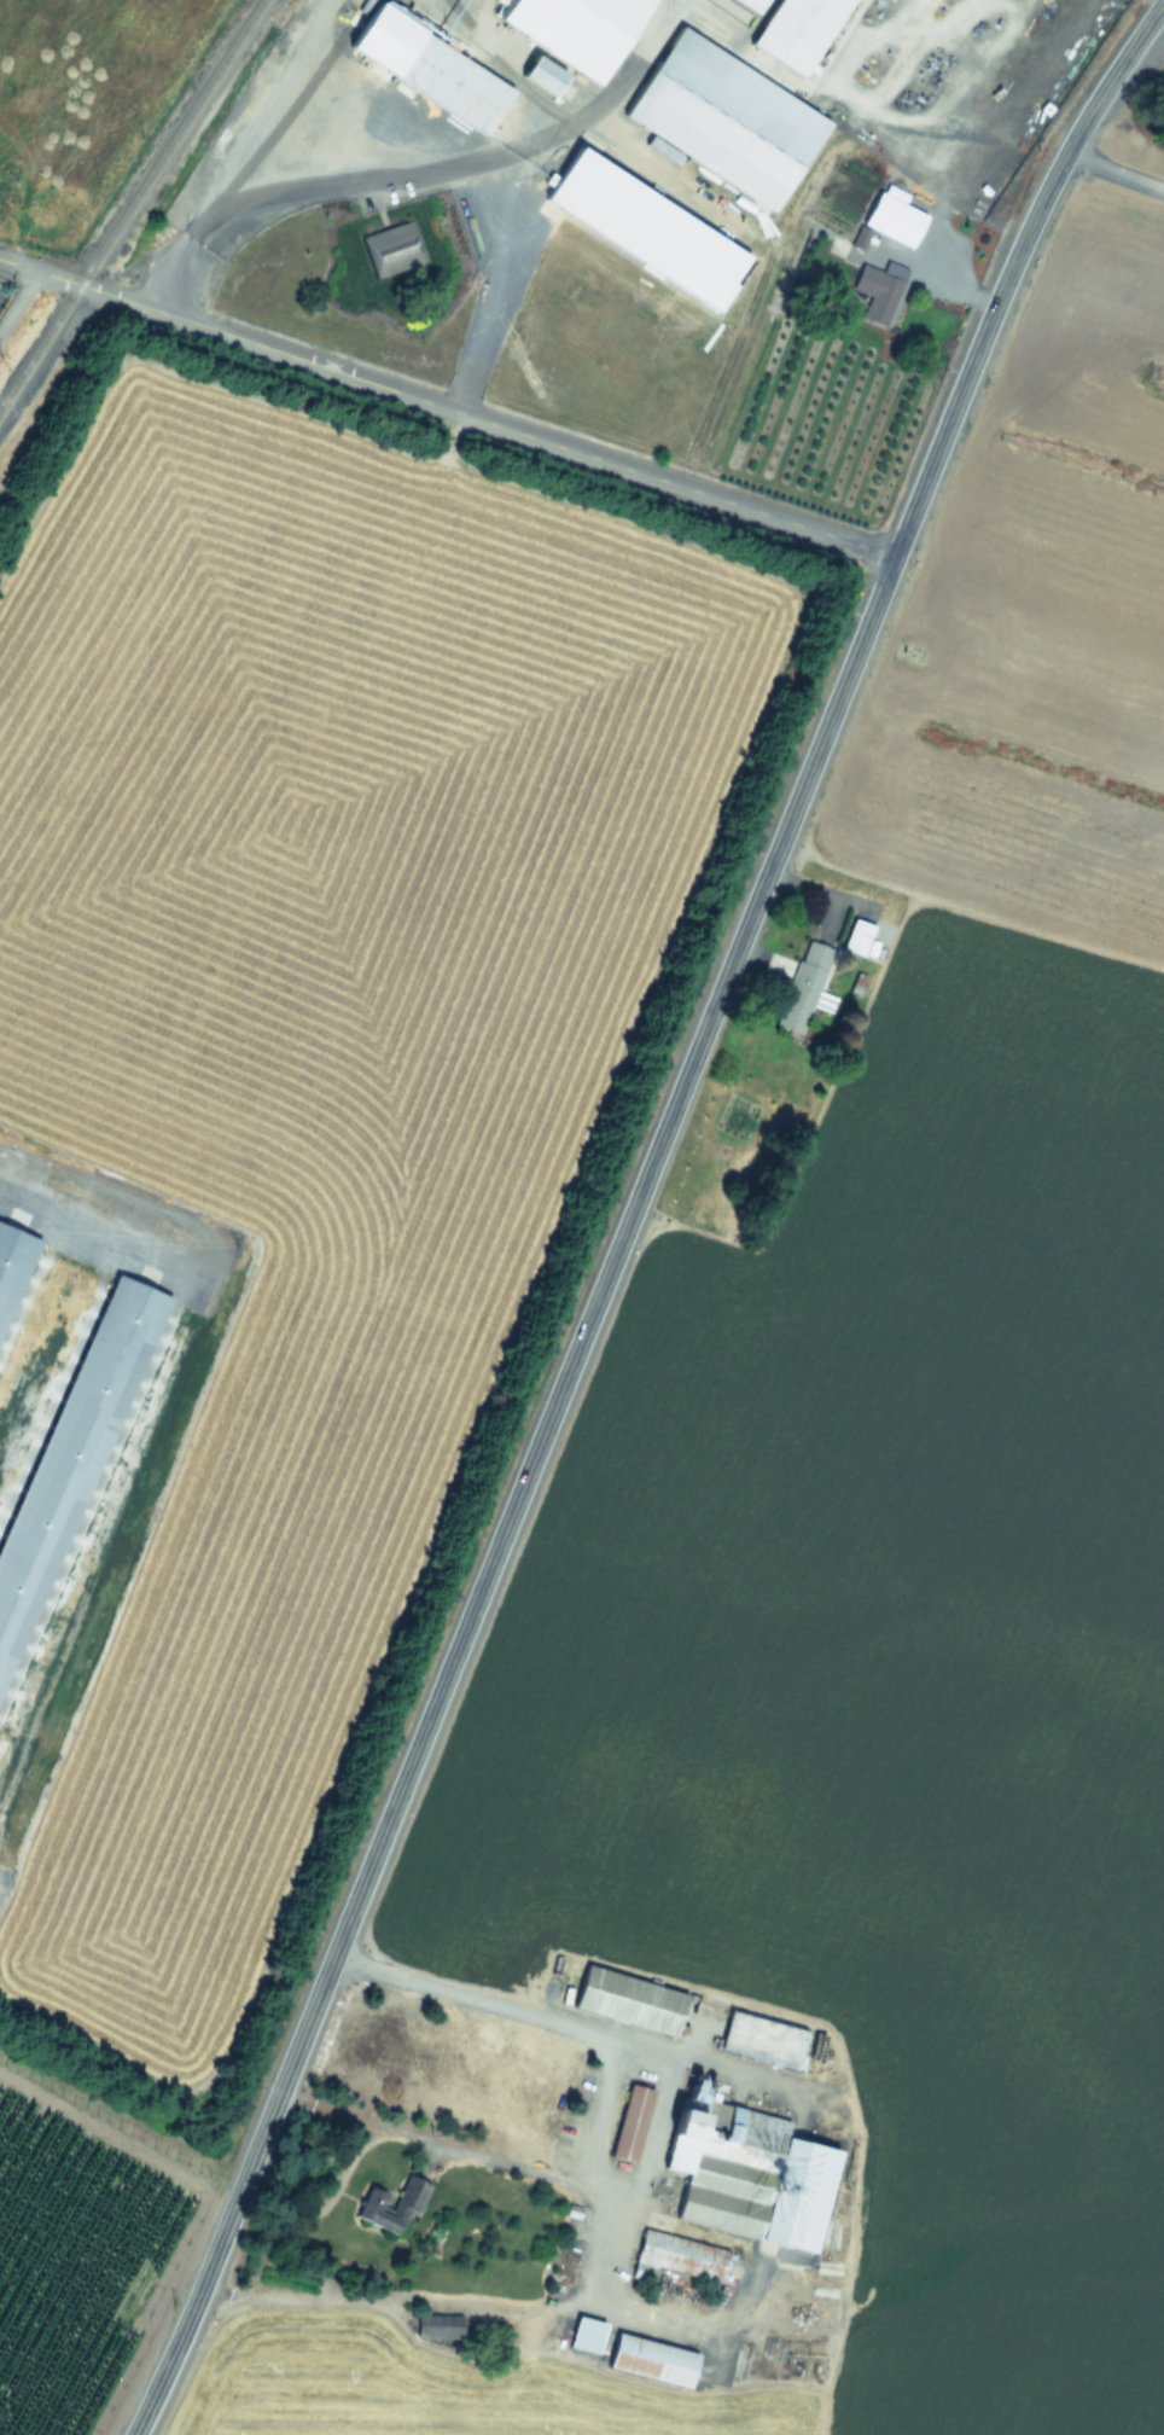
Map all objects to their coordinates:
building: (755, 4)
road: (1153, 14)
building: (576, 29)
building: (799, 31)
building: (552, 82)
building: (453, 83)
crop: (81, 100)
building: (726, 118)
road: (1118, 161)
road: (407, 167)
road: (935, 203)
railway: (130, 204)
building: (894, 220)
building: (392, 249)
building: (878, 292)
road: (18, 303)
crop: (16, 316)
road: (447, 408)
building: (857, 936)
building: (805, 986)
road: (624, 1226)
building: (10, 1257)
crop: (613, 1406)
road: (132, 1408)
building: (64, 1458)
building: (630, 2000)
building: (763, 2038)
road: (598, 2123)
building: (632, 2125)
building: (747, 2173)
building: (389, 2208)
building: (680, 2257)
crop: (71, 2262)
building: (586, 2335)
building: (652, 2360)

